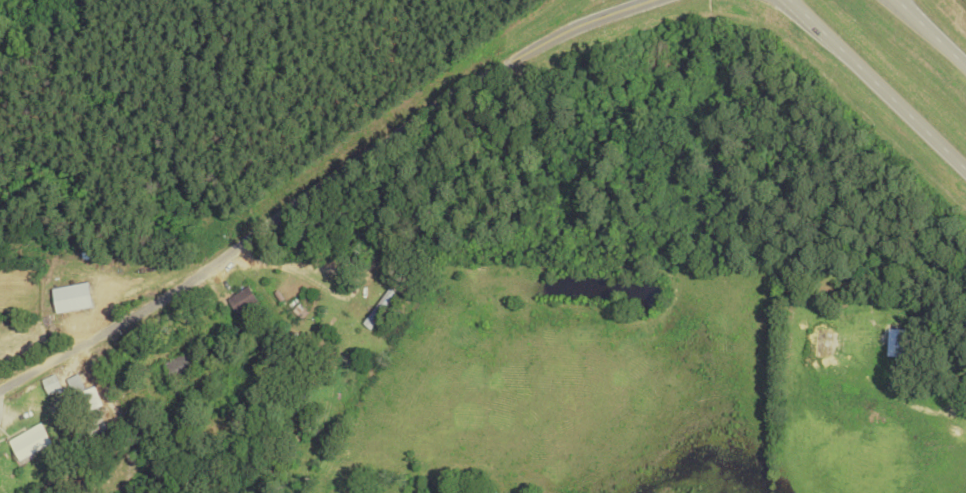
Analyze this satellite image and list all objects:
road: (903, 4)
road: (937, 37)
road: (878, 84)
road: (321, 185)
building: (244, 301)
building: (381, 310)
building: (184, 367)
building: (134, 398)
building: (96, 409)
building: (31, 443)

